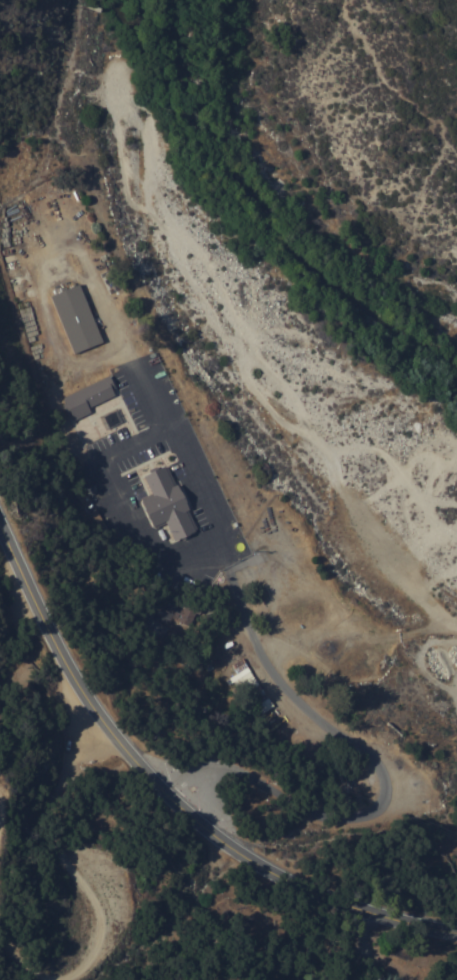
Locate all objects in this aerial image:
road: (390, 88)
river: (263, 218)
building: (73, 319)
building: (93, 322)
building: (85, 398)
building: (105, 400)
building: (127, 422)
building: (163, 505)
building: (184, 507)
building: (181, 618)
building: (248, 688)
road: (83, 692)
road: (304, 709)
road: (235, 856)
road: (90, 893)
road: (358, 914)

